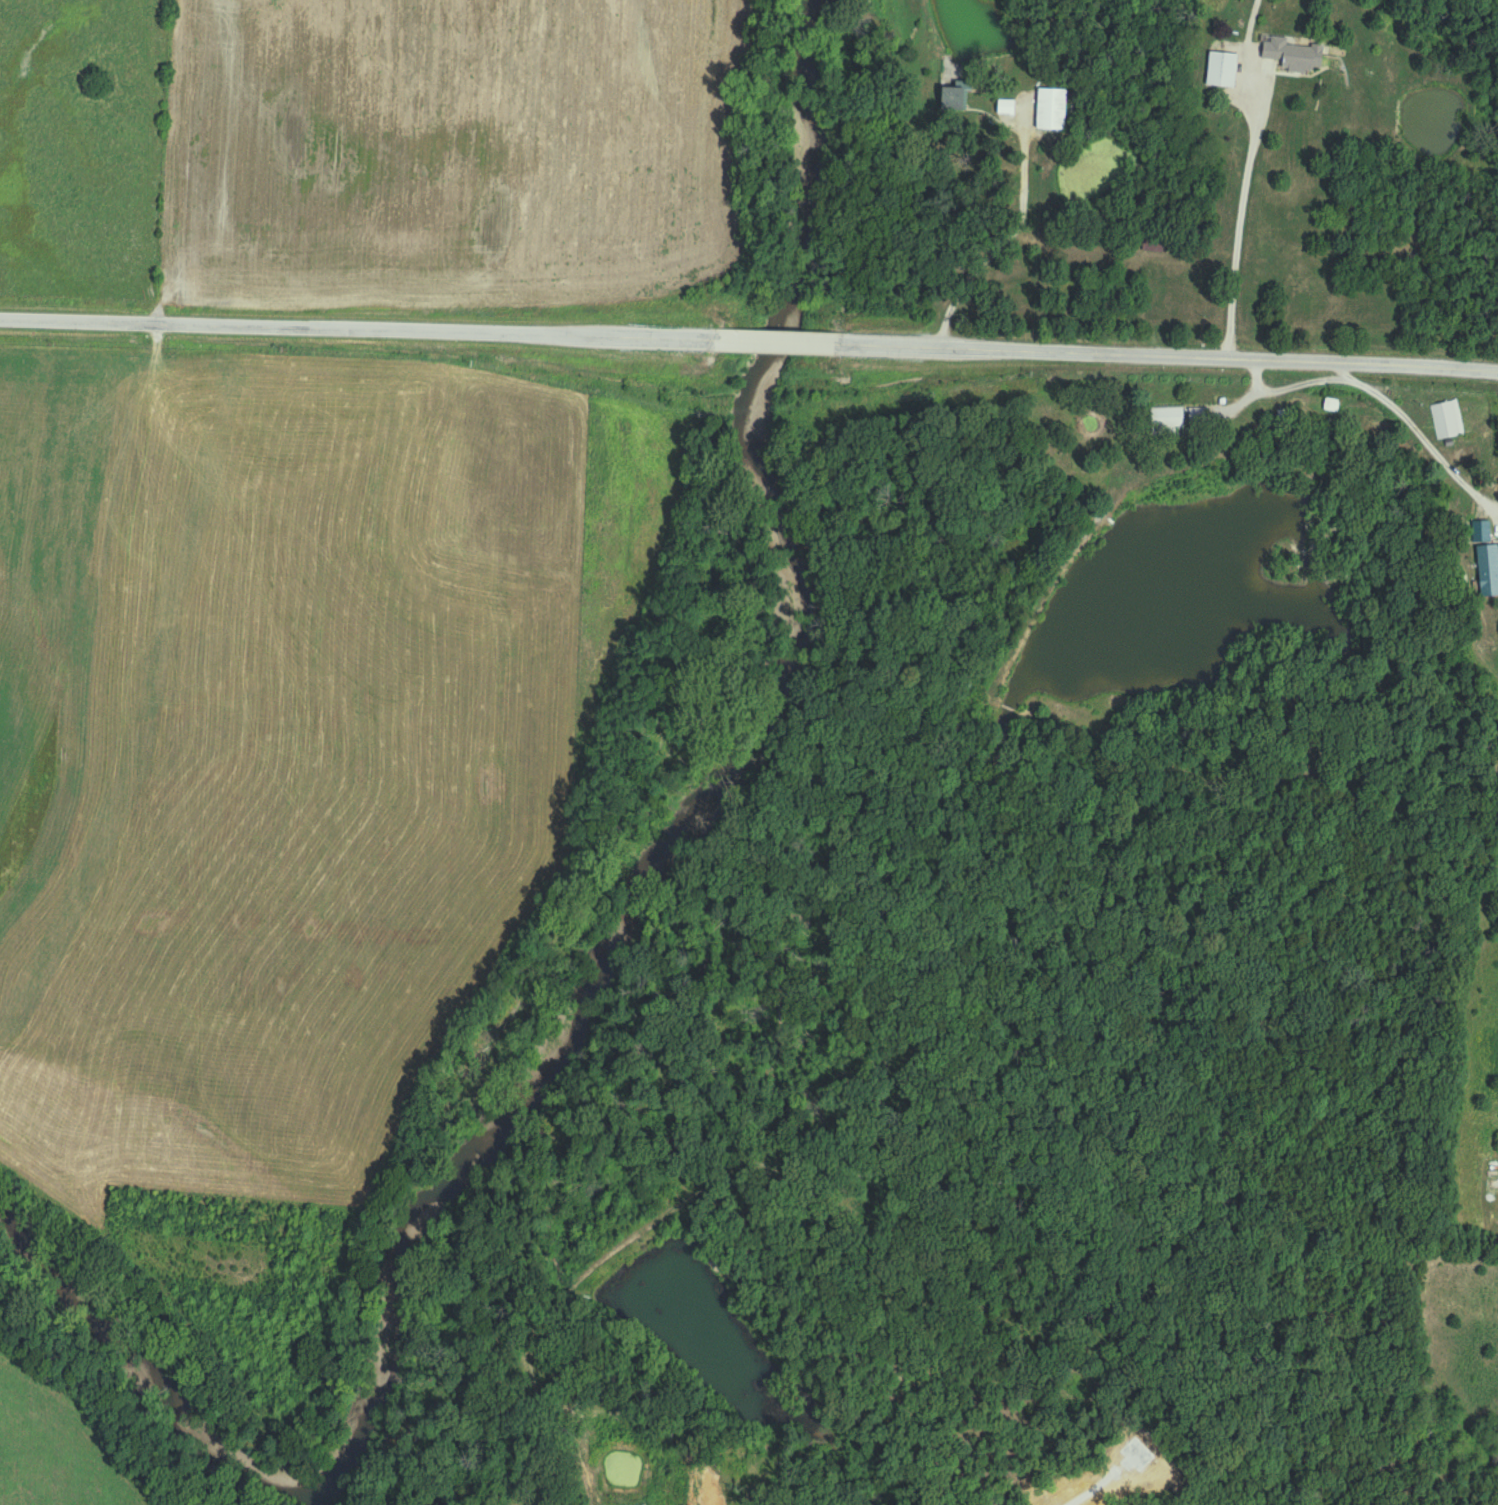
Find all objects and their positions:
building: (1292, 55)
building: (1222, 71)
building: (954, 100)
building: (352, 108)
building: (1006, 108)
building: (1051, 111)
road: (1240, 205)
road: (1013, 234)
building: (1153, 248)
road: (354, 326)
road: (770, 342)
road: (1165, 356)
road: (1384, 397)
building: (1332, 405)
building: (1166, 421)
building: (1446, 421)
building: (1482, 532)
building: (1488, 570)

